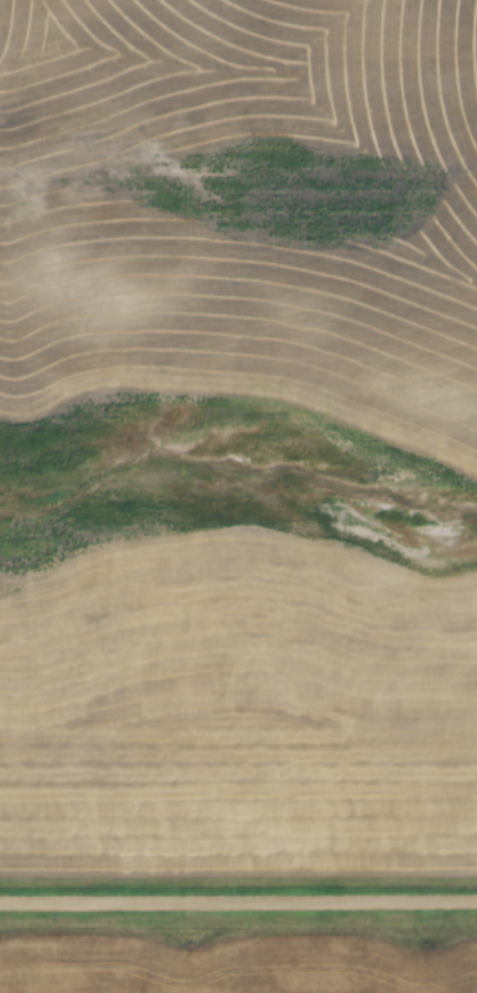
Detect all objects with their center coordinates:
road: (238, 895)

